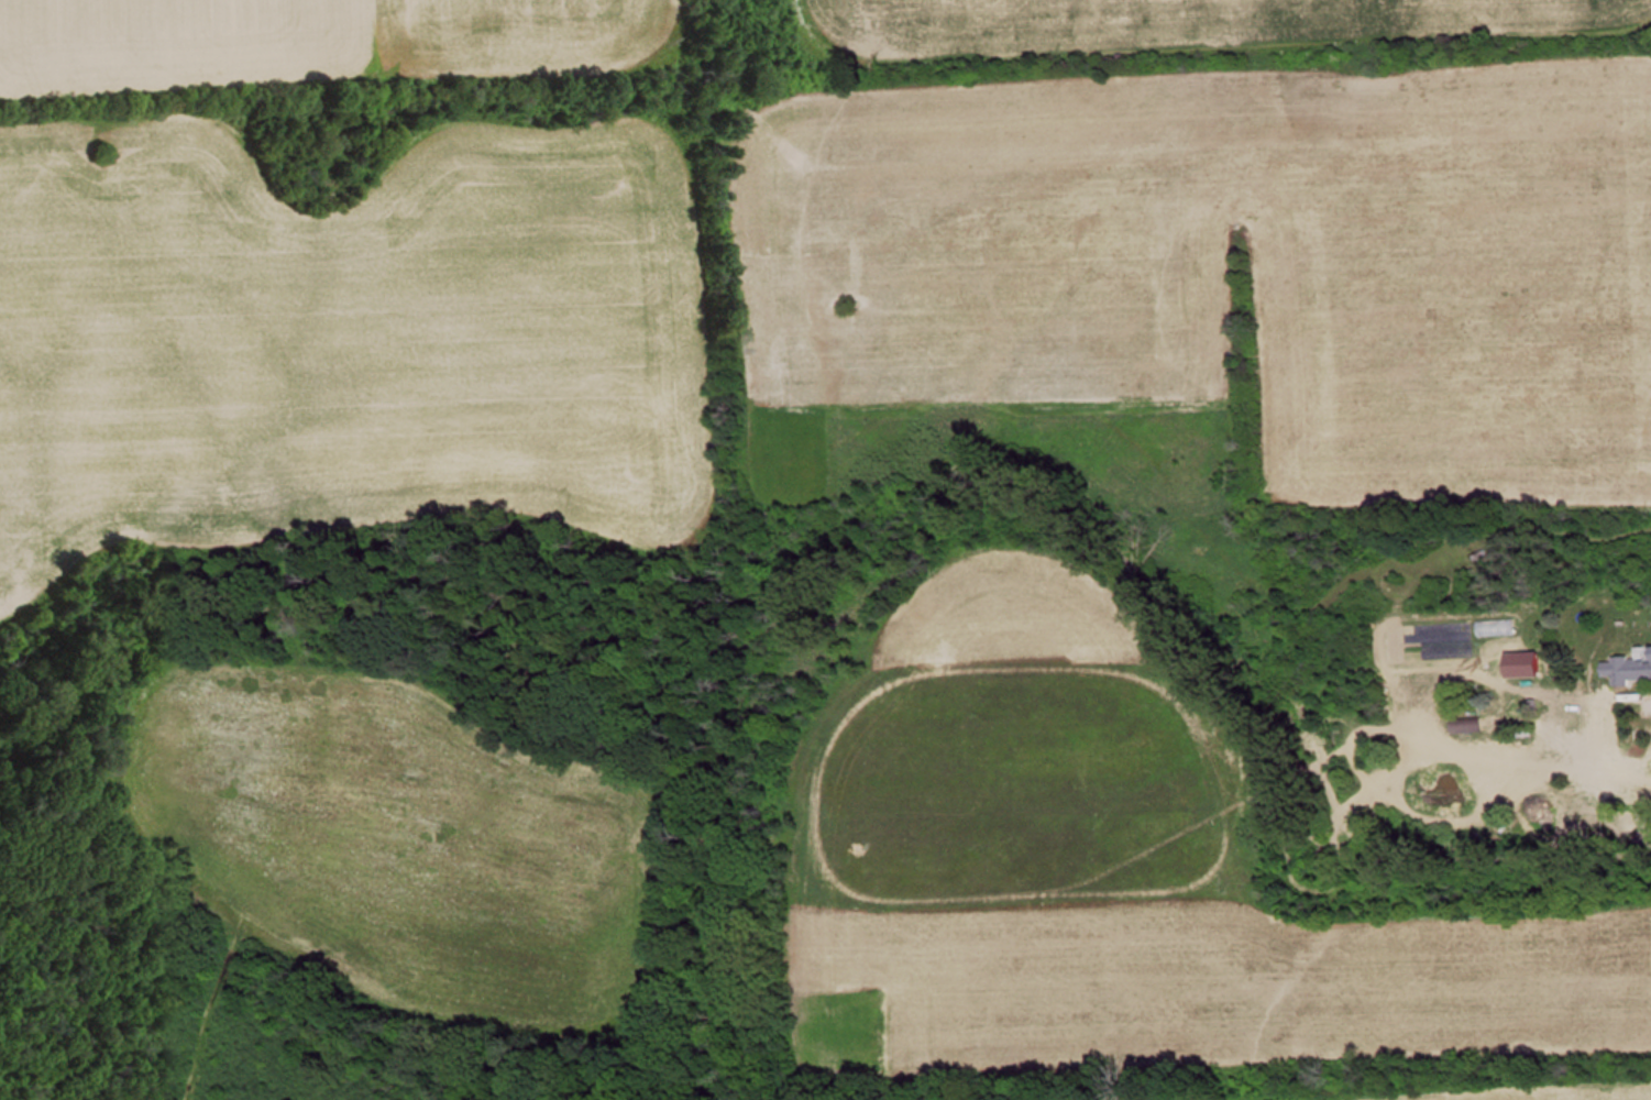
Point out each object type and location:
building: (1538, 664)
building: (1630, 667)

